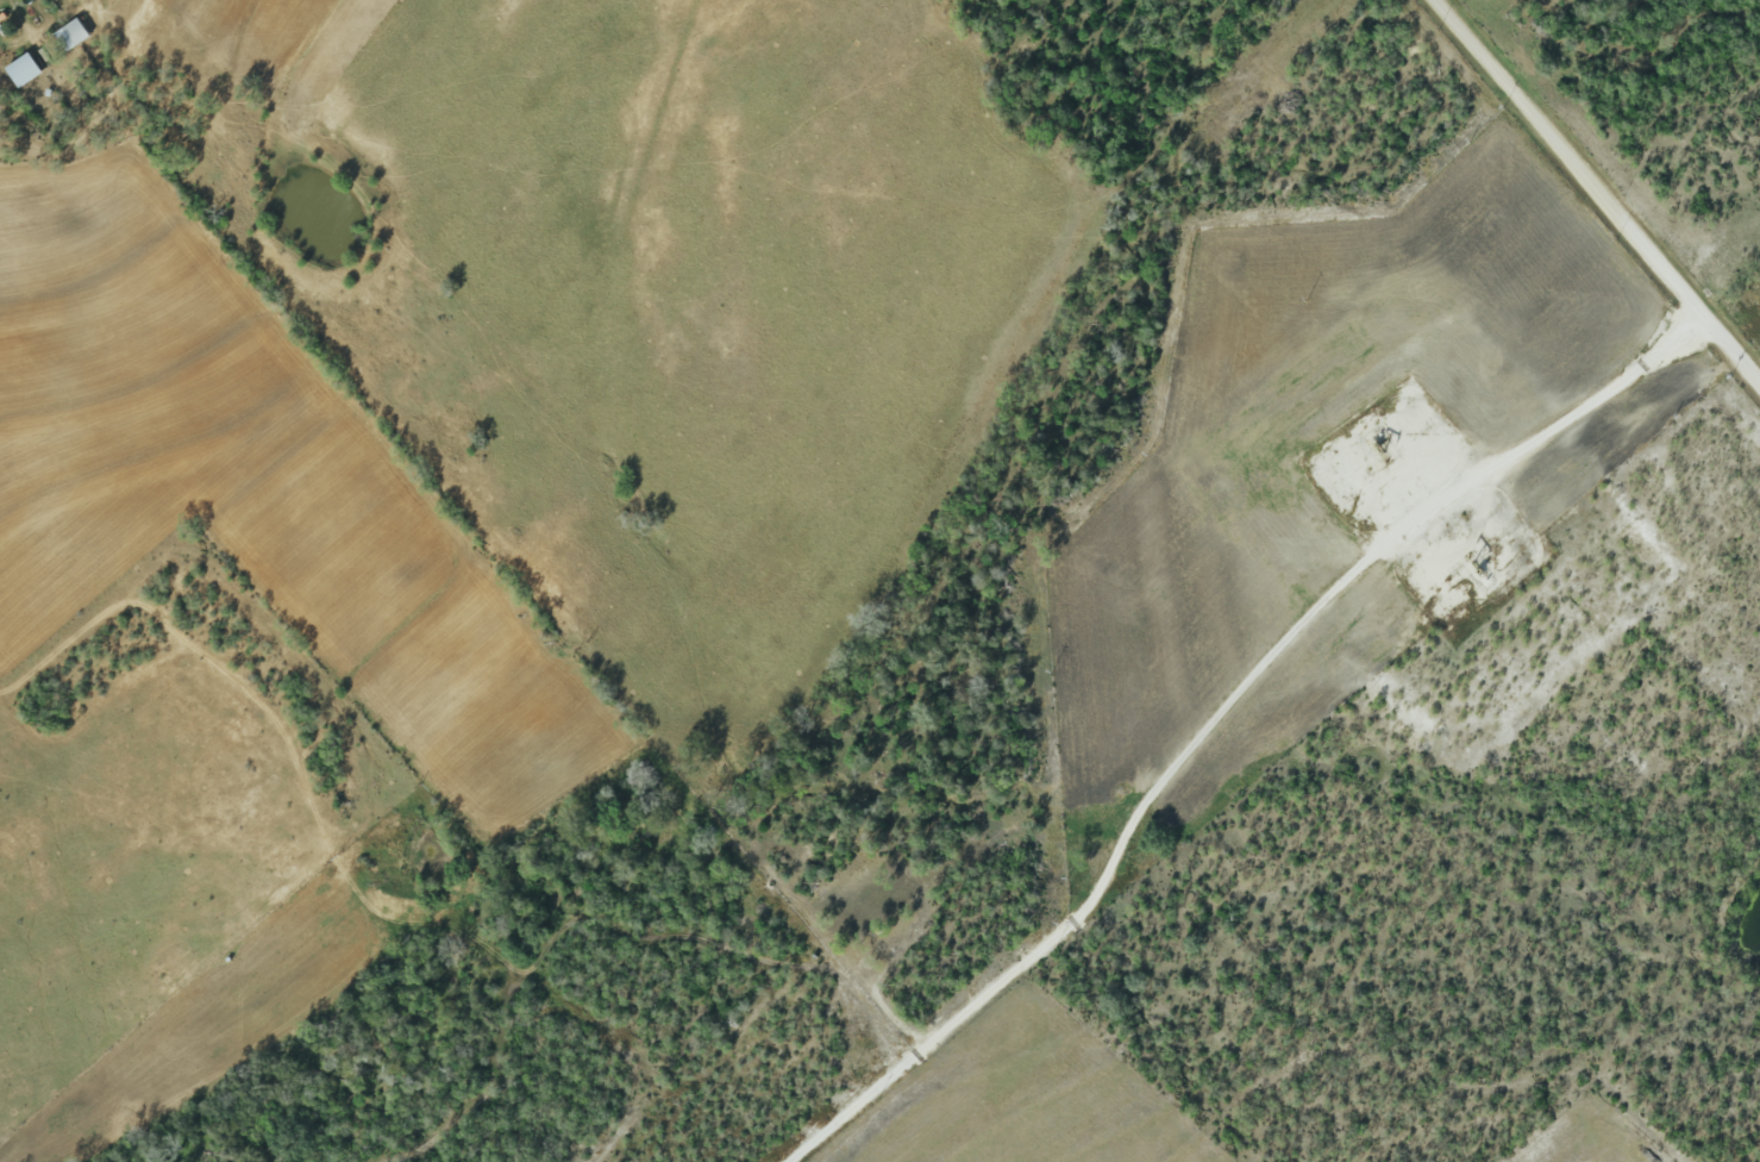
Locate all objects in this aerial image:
building: (71, 35)
building: (23, 70)
road: (1603, 192)
road: (1225, 714)

